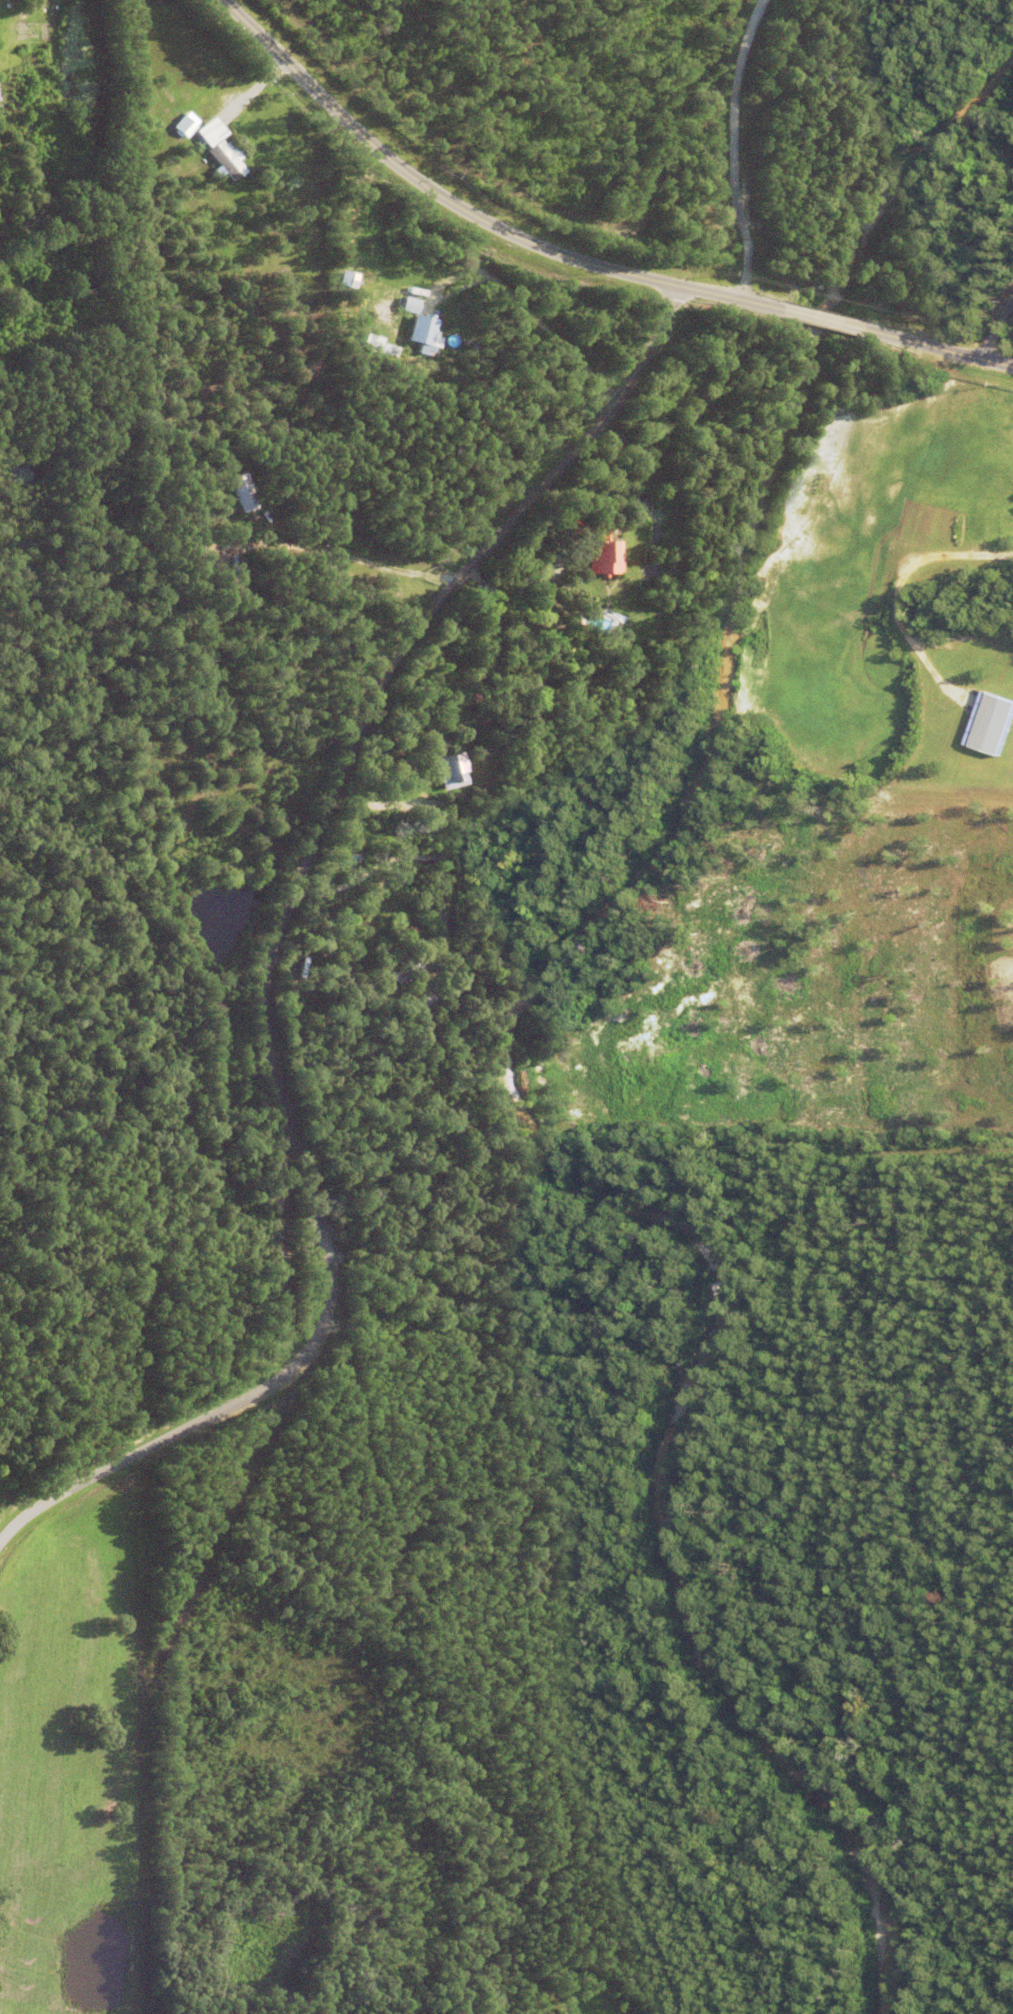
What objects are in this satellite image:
building: (197, 85)
road: (252, 88)
building: (199, 115)
building: (185, 127)
building: (194, 133)
building: (201, 136)
building: (205, 141)
building: (226, 163)
road: (747, 228)
road: (579, 261)
building: (86, 289)
building: (407, 300)
road: (529, 315)
road: (997, 327)
building: (422, 332)
building: (376, 345)
building: (242, 485)
building: (1008, 517)
building: (987, 523)
building: (595, 543)
road: (364, 561)
building: (236, 578)
road: (900, 578)
road: (534, 587)
building: (452, 615)
building: (572, 659)
building: (534, 678)
building: (502, 703)
building: (988, 724)
building: (448, 767)
building: (428, 816)
building: (242, 827)
building: (417, 894)
road: (266, 945)
building: (404, 965)
building: (423, 992)
building: (379, 1000)

